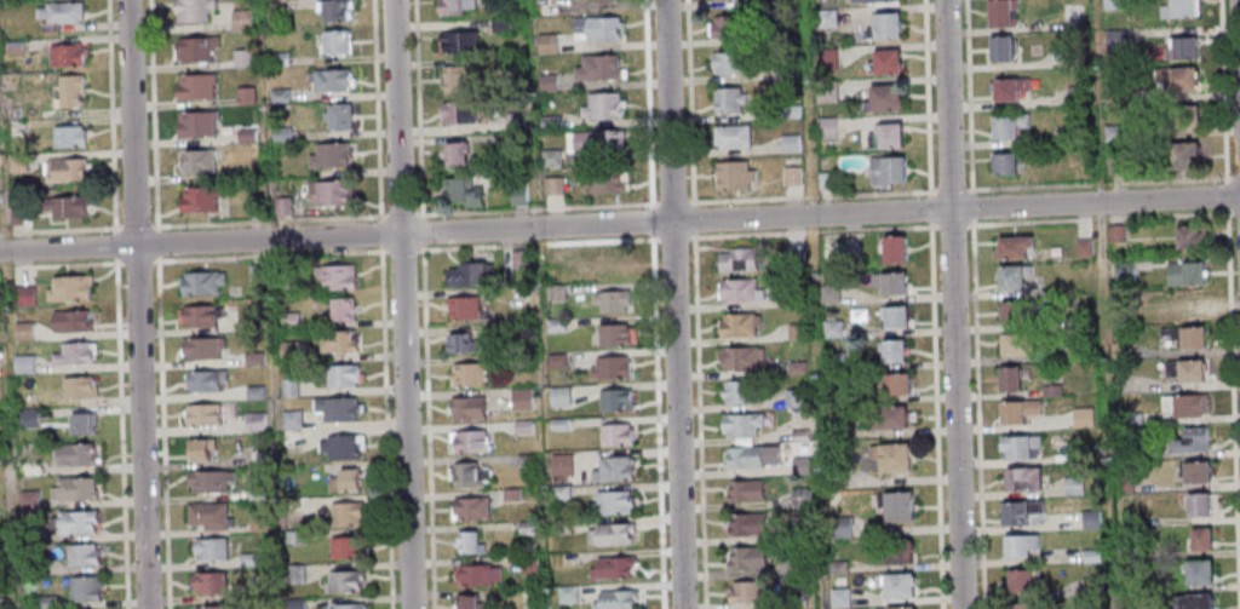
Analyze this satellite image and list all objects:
building: (56, 0)
building: (721, 0)
building: (599, 1)
building: (785, 2)
building: (873, 2)
building: (1112, 5)
building: (455, 7)
road: (1239, 7)
building: (193, 11)
building: (1181, 11)
building: (334, 12)
building: (1003, 16)
building: (58, 17)
building: (825, 19)
building: (240, 21)
building: (500, 25)
building: (731, 27)
building: (596, 29)
building: (884, 29)
building: (1116, 40)
building: (459, 42)
building: (546, 44)
building: (335, 45)
building: (13, 48)
building: (195, 50)
building: (1181, 51)
building: (1003, 52)
building: (68, 57)
building: (241, 59)
building: (279, 59)
building: (826, 61)
building: (1075, 61)
building: (731, 64)
building: (885, 65)
building: (598, 69)
building: (788, 73)
building: (458, 80)
building: (331, 81)
building: (546, 82)
building: (1177, 82)
building: (195, 88)
building: (70, 92)
building: (1007, 92)
building: (826, 93)
building: (279, 96)
building: (1114, 96)
building: (245, 97)
building: (1075, 97)
road: (648, 100)
road: (689, 102)
building: (728, 102)
building: (883, 103)
building: (601, 107)
road: (375, 108)
road: (418, 108)
road: (153, 113)
building: (790, 113)
road: (111, 114)
building: (459, 114)
building: (339, 119)
building: (513, 121)
building: (1186, 121)
building: (549, 122)
building: (196, 126)
building: (1009, 128)
building: (826, 130)
building: (280, 134)
building: (1113, 134)
building: (246, 137)
building: (1078, 137)
building: (69, 138)
building: (731, 138)
building: (889, 138)
building: (515, 142)
building: (598, 143)
building: (790, 144)
building: (454, 156)
building: (329, 157)
building: (1181, 157)
building: (550, 159)
building: (196, 162)
building: (16, 163)
building: (1115, 165)
building: (1006, 168)
building: (65, 171)
building: (886, 173)
building: (228, 177)
building: (791, 177)
building: (733, 178)
building: (603, 182)
building: (823, 184)
building: (552, 186)
road: (964, 189)
building: (332, 194)
building: (517, 194)
building: (461, 195)
road: (672, 200)
building: (199, 201)
road: (651, 203)
building: (252, 206)
road: (536, 207)
building: (281, 208)
building: (65, 209)
road: (401, 213)
building: (15, 217)
road: (693, 218)
road: (651, 219)
road: (268, 220)
road: (134, 224)
road: (620, 225)
road: (964, 225)
road: (58, 228)
road: (379, 230)
road: (421, 230)
building: (1114, 232)
building: (1187, 235)
road: (673, 237)
road: (156, 241)
road: (536, 243)
road: (115, 245)
building: (1011, 245)
building: (892, 247)
building: (1081, 247)
road: (401, 249)
building: (827, 251)
road: (269, 255)
building: (551, 258)
building: (518, 259)
building: (735, 259)
building: (792, 259)
road: (136, 262)
building: (602, 264)
road: (58, 265)
building: (1123, 271)
building: (1183, 271)
building: (466, 272)
building: (253, 274)
building: (1011, 275)
building: (334, 276)
building: (281, 278)
building: (889, 280)
building: (200, 282)
building: (67, 287)
building: (737, 289)
building: (553, 293)
building: (828, 293)
building: (22, 295)
building: (793, 297)
building: (609, 299)
road: (136, 304)
road: (401, 304)
road: (673, 304)
road: (952, 304)
building: (461, 308)
building: (340, 309)
building: (1015, 309)
building: (200, 315)
building: (892, 315)
building: (69, 320)
building: (288, 320)
building: (249, 324)
building: (552, 324)
building: (736, 324)
building: (831, 328)
building: (22, 331)
building: (796, 332)
building: (612, 334)
building: (1184, 334)
building: (335, 340)
building: (459, 344)
building: (1016, 344)
building: (1084, 344)
building: (201, 347)
building: (890, 349)
building: (287, 350)
building: (1119, 350)
building: (71, 352)
building: (252, 357)
building: (739, 357)
building: (516, 360)
building: (555, 360)
building: (834, 360)
building: (21, 363)
building: (608, 367)
building: (796, 368)
building: (1184, 368)
building: (340, 374)
building: (465, 374)
building: (1010, 375)
building: (202, 379)
building: (892, 383)
building: (76, 386)
building: (287, 386)
building: (736, 390)
building: (1050, 390)
building: (252, 391)
building: (558, 396)
building: (794, 398)
building: (519, 400)
building: (613, 400)
building: (1182, 404)
building: (465, 407)
building: (335, 408)
building: (1016, 409)
building: (203, 413)
building: (889, 415)
building: (27, 418)
building: (289, 419)
building: (1131, 419)
road: (658, 420)
road: (697, 420)
building: (81, 421)
building: (253, 421)
building: (740, 423)
building: (556, 424)
road: (429, 426)
building: (521, 426)
road: (385, 427)
building: (836, 429)
road: (162, 432)
road: (121, 433)
building: (614, 435)
building: (798, 435)
building: (1189, 439)
building: (467, 441)
building: (1017, 444)
building: (339, 446)
building: (196, 448)
building: (1086, 452)
building: (75, 453)
building: (1132, 453)
building: (890, 455)
building: (741, 456)
building: (524, 460)
building: (559, 464)
building: (799, 465)
building: (28, 469)
building: (610, 469)
building: (1193, 470)
building: (467, 475)
building: (1021, 477)
building: (836, 478)
building: (207, 479)
building: (341, 479)
building: (1072, 484)
building: (1121, 486)
building: (71, 488)
building: (744, 490)
building: (254, 493)
building: (558, 493)
building: (510, 495)
building: (27, 499)
building: (798, 499)
building: (610, 502)
building: (895, 502)
building: (1195, 502)
building: (291, 505)
building: (469, 507)
building: (1021, 511)
building: (344, 512)
building: (206, 515)
building: (1089, 518)
building: (1124, 519)
building: (73, 521)
building: (746, 523)
building: (257, 524)
building: (526, 527)
building: (559, 527)
building: (839, 527)
building: (608, 534)
building: (0, 536)
building: (292, 538)
building: (1198, 539)
building: (466, 541)
building: (1018, 544)
building: (345, 547)
building: (208, 548)
building: (894, 548)
building: (1124, 553)
building: (80, 555)
building: (1090, 555)
building: (746, 557)
building: (247, 559)
building: (527, 563)
building: (796, 565)
building: (610, 567)
building: (836, 567)
building: (28, 568)
building: (1198, 570)
building: (293, 574)
building: (475, 575)
building: (1020, 578)
building: (208, 581)
building: (341, 581)
building: (895, 582)
building: (1090, 586)
building: (82, 588)
building: (741, 591)
building: (566, 594)
building: (838, 597)
building: (527, 598)
building: (614, 599)
building: (1193, 601)
building: (47, 602)
building: (465, 602)
building: (1, 603)
building: (294, 604)
building: (1026, 604)
building: (348, 605)
building: (211, 607)
building: (899, 607)

